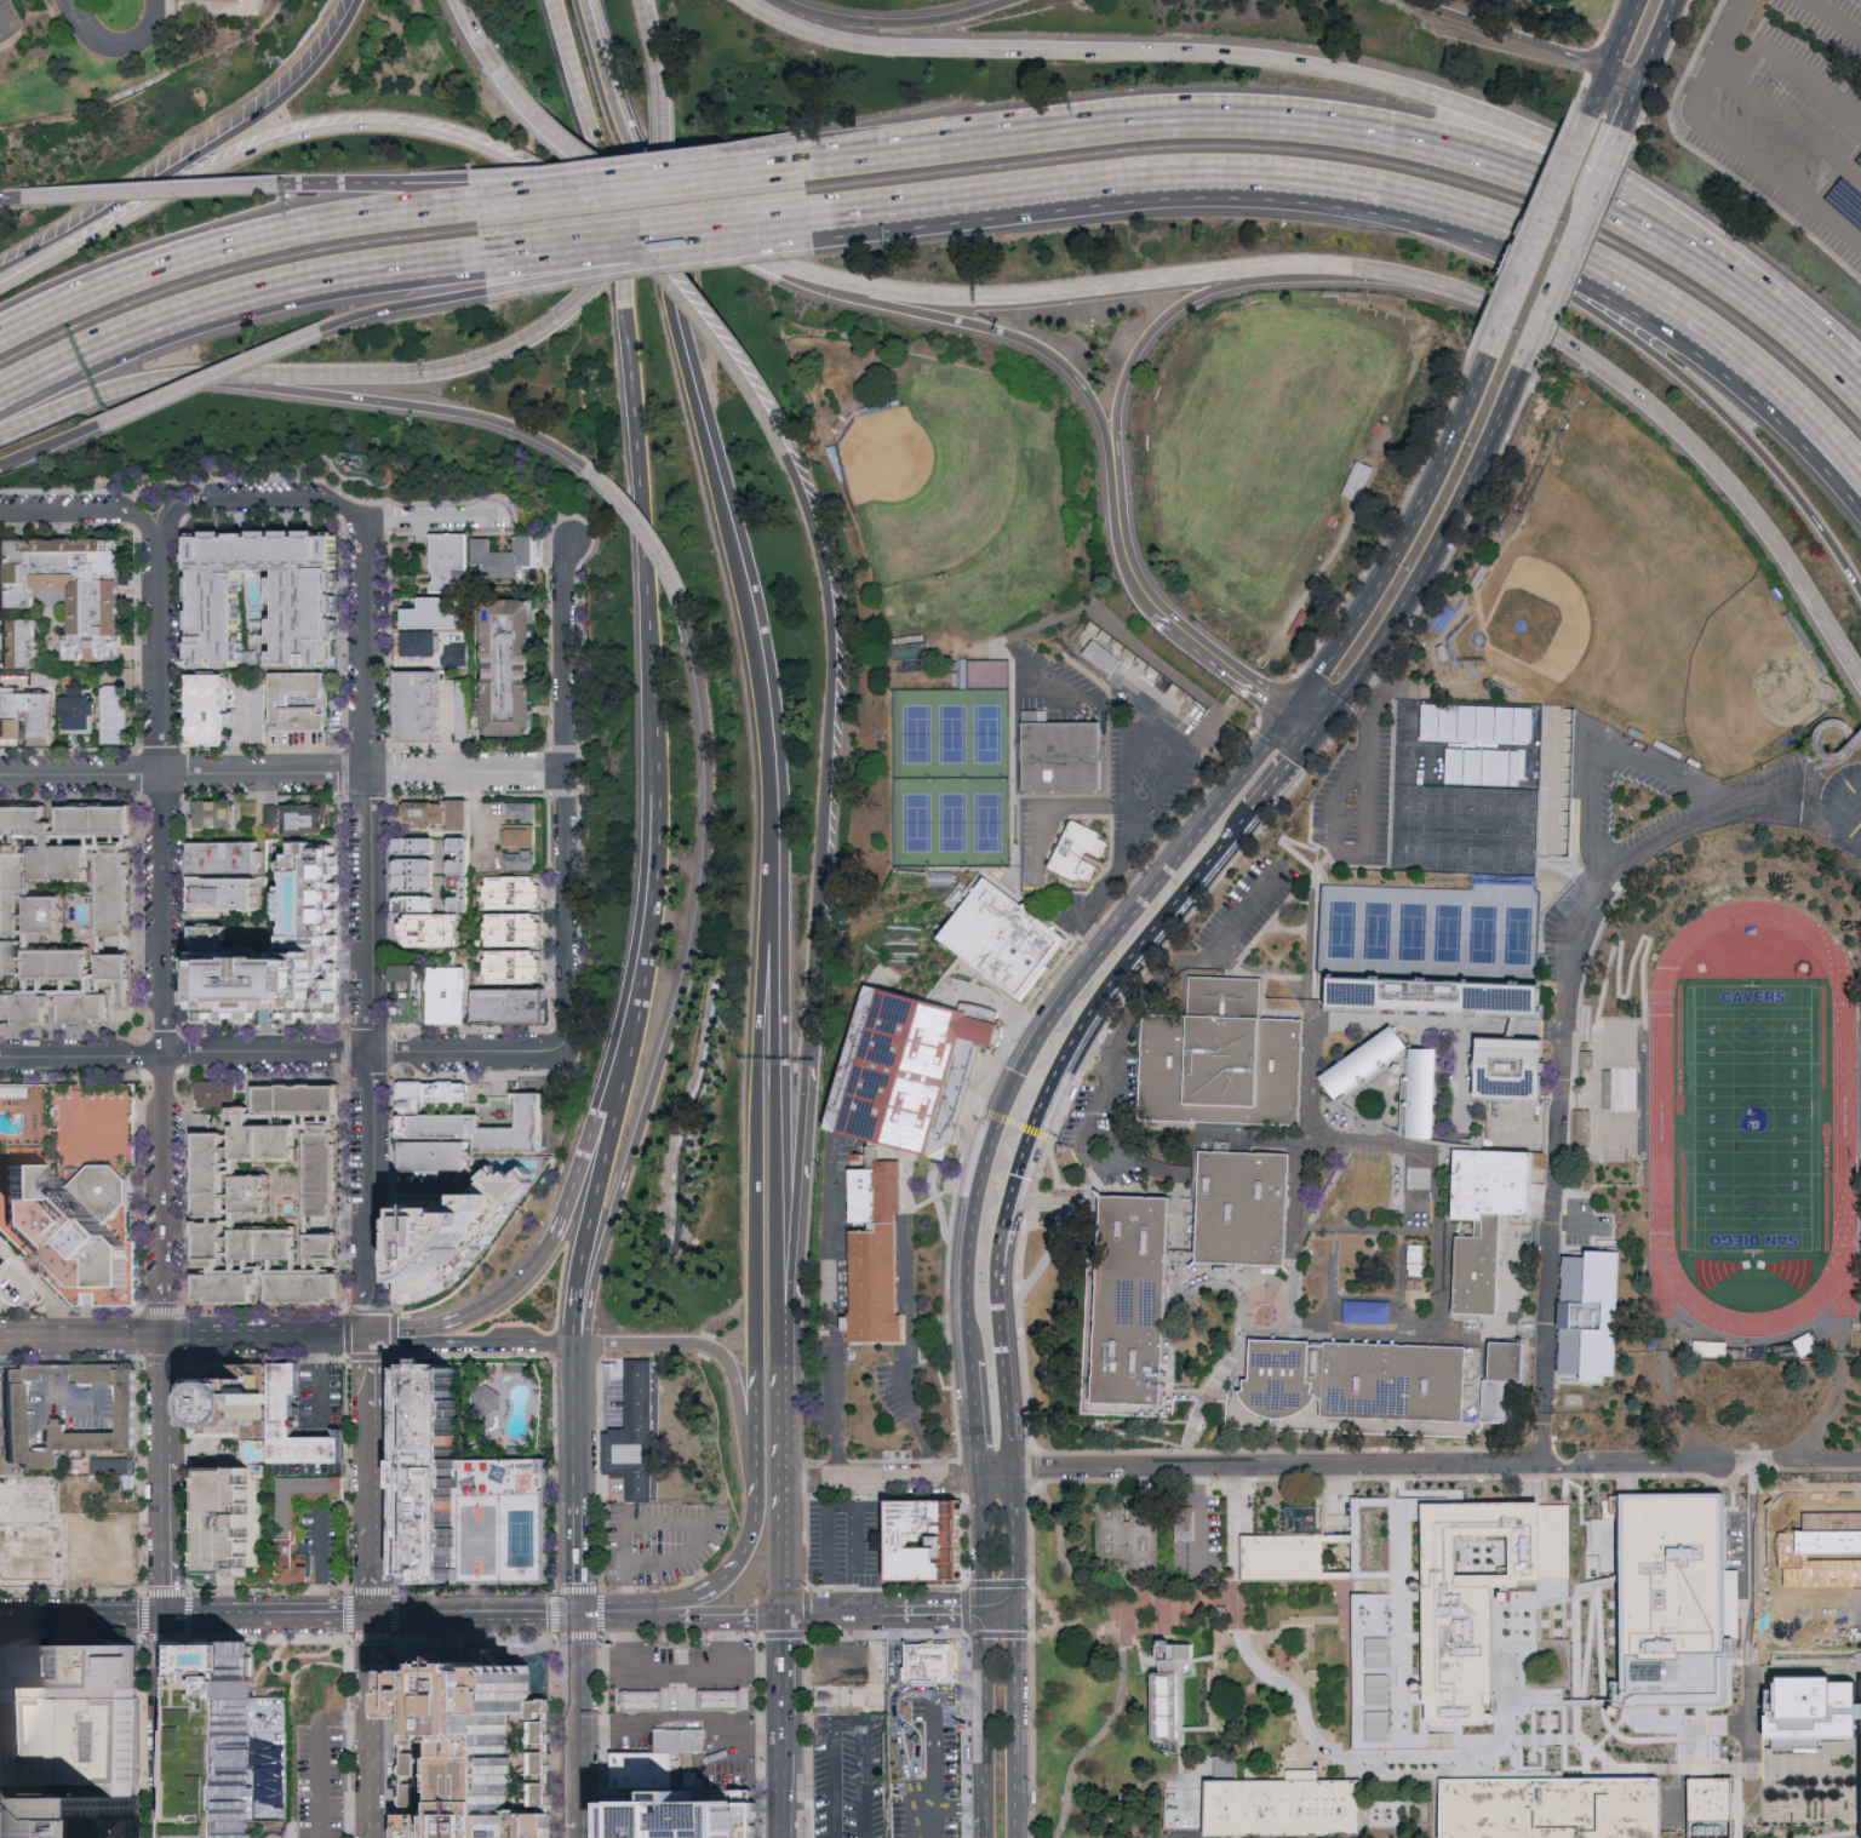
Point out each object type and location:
building: (219, 0)
road: (646, 2)
road: (1836, 16)
road: (75, 17)
parking lot: (7, 22)
road: (1607, 23)
road: (1665, 23)
road: (895, 24)
road: (1678, 27)
road: (19, 38)
road: (480, 41)
road: (655, 42)
road: (1530, 44)
road: (136, 45)
road: (1614, 56)
road: (1591, 58)
road: (1678, 58)
road: (1792, 58)
park: (442, 69)
road: (1335, 71)
road: (1725, 79)
road: (1639, 84)
road: (1580, 90)
road: (1651, 93)
parking lot: (1786, 114)
park: (1739, 116)
road: (1170, 122)
road: (1622, 125)
road: (1799, 130)
road: (225, 134)
road: (1728, 137)
road: (1610, 153)
road: (235, 161)
road: (1710, 161)
road: (800, 164)
road: (1295, 177)
road: (405, 182)
road: (609, 188)
road: (635, 189)
road: (10, 199)
road: (643, 212)
road: (836, 217)
road: (773, 223)
road: (1523, 227)
road: (1432, 234)
road: (1539, 234)
road: (583, 240)
road: (208, 251)
road: (32, 253)
road: (1585, 253)
road: (32, 258)
road: (613, 263)
road: (1559, 271)
road: (1705, 271)
road: (792, 274)
road: (671, 275)
road: (1122, 286)
road: (1207, 296)
road: (210, 304)
road: (406, 308)
road: (1007, 334)
road: (391, 376)
road: (213, 378)
road: (632, 395)
road: (101, 396)
road: (1783, 397)
road: (402, 406)
road: (1776, 430)
road: (1688, 440)
road: (55, 445)
park: (1272, 447)
road: (4, 466)
park: (254, 470)
building: (1357, 480)
park: (934, 486)
road: (259, 499)
road: (82, 513)
road: (429, 519)
road: (1393, 520)
road: (648, 534)
road: (1404, 543)
road: (1129, 555)
building: (505, 557)
road: (1433, 560)
building: (442, 562)
road: (1327, 565)
road: (745, 588)
building: (67, 589)
park: (1651, 608)
building: (303, 614)
building: (434, 614)
road: (1186, 630)
building: (18, 645)
building: (419, 646)
road: (367, 647)
building: (457, 653)
building: (506, 670)
building: (986, 672)
road: (1176, 675)
building: (42, 676)
building: (1147, 677)
road: (1253, 683)
road: (1273, 695)
building: (296, 702)
road: (1227, 704)
building: (206, 708)
building: (463, 708)
building: (420, 709)
building: (113, 712)
traffic signals: (1289, 712)
building: (76, 716)
building: (1479, 721)
road: (1301, 723)
building: (40, 729)
traffic signals: (1315, 734)
road: (1135, 735)
road: (1821, 748)
road: (1593, 749)
road: (830, 758)
building: (1065, 758)
building: (1485, 766)
road: (1828, 766)
road: (282, 774)
park: (951, 777)
road: (1279, 779)
road: (1226, 792)
road: (565, 797)
parking lot: (1763, 806)
road: (1850, 806)
road: (1057, 811)
building: (1501, 812)
building: (273, 813)
building: (519, 813)
road: (1335, 814)
building: (214, 817)
building: (434, 817)
building: (96, 820)
building: (23, 821)
building: (302, 821)
building: (519, 836)
building: (416, 848)
building: (223, 857)
building: (1083, 857)
road: (1218, 857)
building: (58, 860)
building: (1500, 860)
building: (520, 863)
building: (459, 875)
building: (416, 876)
building: (940, 876)
building: (514, 893)
building: (223, 895)
building: (111, 897)
road: (652, 901)
building: (23, 903)
building: (414, 904)
road: (1075, 920)
building: (513, 931)
building: (429, 932)
road: (165, 933)
park: (1427, 933)
building: (1006, 943)
building: (275, 954)
road: (1186, 961)
building: (8, 964)
building: (59, 966)
building: (513, 968)
building: (116, 978)
road: (683, 986)
building: (1445, 991)
building: (410, 995)
building: (448, 996)
building: (510, 1006)
building: (23, 1010)
road: (1333, 1020)
road: (1564, 1024)
road: (1081, 1040)
road: (1008, 1048)
road: (1037, 1048)
road: (276, 1054)
road: (368, 1055)
road: (625, 1060)
building: (1363, 1063)
building: (912, 1064)
building: (1226, 1064)
building: (1513, 1073)
building: (1617, 1092)
building: (214, 1094)
road: (757, 1095)
road: (1066, 1096)
building: (1424, 1098)
building: (297, 1100)
road: (600, 1111)
park: (1756, 1115)
building: (468, 1118)
track: (1664, 1121)
building: (1586, 1127)
road: (1115, 1138)
road: (1082, 1139)
building: (262, 1140)
building: (431, 1156)
building: (321, 1174)
building: (208, 1175)
road: (800, 1183)
building: (68, 1191)
building: (252, 1195)
building: (1421, 1199)
building: (1248, 1213)
building: (460, 1224)
building: (1489, 1227)
road: (586, 1230)
building: (210, 1242)
building: (265, 1246)
building: (877, 1255)
road: (781, 1269)
building: (1324, 1271)
building: (1414, 1276)
building: (15, 1283)
building: (303, 1287)
building: (224, 1288)
road: (496, 1301)
road: (969, 1306)
building: (1136, 1306)
road: (834, 1311)
building: (1368, 1313)
building: (1590, 1316)
road: (785, 1321)
road: (382, 1336)
road: (1003, 1336)
traffic signals: (166, 1338)
road: (183, 1338)
traffic signals: (368, 1338)
building: (1809, 1342)
road: (643, 1345)
road: (320, 1350)
road: (783, 1359)
building: (1508, 1387)
building: (1353, 1388)
road: (319, 1393)
building: (233, 1399)
road: (755, 1401)
road: (368, 1405)
road: (783, 1414)
road: (973, 1415)
road: (912, 1416)
building: (8, 1421)
road: (580, 1424)
building: (631, 1439)
building: (311, 1443)
road: (895, 1459)
road: (1700, 1462)
road: (1275, 1464)
road: (784, 1465)
road: (1033, 1465)
road: (995, 1467)
building: (463, 1471)
road: (755, 1473)
road: (962, 1476)
road: (881, 1477)
road: (1214, 1478)
road: (978, 1479)
building: (82, 1482)
road: (1399, 1483)
road: (784, 1494)
parking lot: (29, 1502)
road: (843, 1506)
road: (1769, 1515)
road: (1355, 1516)
road: (1233, 1519)
building: (230, 1521)
road: (1014, 1524)
building: (284, 1528)
park: (482, 1536)
park: (522, 1538)
road: (964, 1538)
building: (1127, 1539)
road: (1336, 1539)
road: (1352, 1539)
building: (920, 1540)
road: (806, 1541)
building: (1814, 1541)
road: (864, 1542)
road: (626, 1544)
road: (825, 1544)
road: (368, 1545)
parking lot: (646, 1545)
road: (320, 1546)
road: (981, 1548)
building: (99, 1551)
road: (1244, 1557)
building: (1281, 1558)
road: (1318, 1558)
road: (582, 1559)
road: (784, 1561)
road: (666, 1562)
building: (1853, 1562)
road: (734, 1567)
building: (1813, 1570)
parking lot: (1799, 1574)
road: (1336, 1575)
road: (1375, 1575)
road: (846, 1580)
road: (1596, 1580)
road: (998, 1581)
road: (1393, 1586)
road: (168, 1587)
building: (1490, 1590)
road: (864, 1594)
road: (630, 1597)
road: (319, 1598)
road: (1018, 1598)
road: (1226, 1599)
building: (1671, 1599)
road: (1139, 1601)
road: (1237, 1604)
road: (662, 1605)
road: (966, 1608)
road: (938, 1609)
traffic signals: (984, 1609)
road: (1001, 1609)
road: (838, 1610)
traffic signals: (1018, 1610)
road: (763, 1611)
traffic signals: (785, 1611)
road: (653, 1613)
road: (709, 1613)
road: (132, 1615)
traffic signals: (170, 1615)
road: (606, 1615)
road: (287, 1616)
road: (339, 1616)
traffic signals: (368, 1616)
road: (475, 1616)
traffic signals: (583, 1617)
road: (1305, 1617)
road: (1227, 1622)
road: (1146, 1630)
road: (997, 1633)
road: (1401, 1633)
road: (265, 1639)
road: (785, 1639)
road: (741, 1642)
road: (368, 1643)
road: (1512, 1644)
road: (1599, 1645)
road: (277, 1648)
road: (1302, 1653)
road: (1122, 1655)
road: (807, 1656)
road: (290, 1659)
fountain: (536, 1662)
road: (821, 1665)
building: (934, 1665)
road: (1576, 1666)
building: (79, 1667)
road: (763, 1668)
road: (663, 1670)
road: (1753, 1670)
road: (258, 1671)
road: (1355, 1671)
helipad: (76, 1672)
gas station: (681, 1677)
park: (1081, 1683)
road: (1017, 1685)
building: (1168, 1688)
road: (785, 1691)
road: (958, 1694)
road: (1591, 1701)
building: (1819, 1702)
building: (725, 1705)
road: (1531, 1705)
building: (646, 1706)
road: (984, 1713)
road: (583, 1718)
road: (1622, 1718)
road: (692, 1720)
road: (1547, 1722)
road: (401, 1725)
road: (429, 1731)
road: (966, 1735)
road: (399, 1737)
road: (1512, 1737)
road: (1561, 1737)
road: (1533, 1739)
road: (1547, 1739)
building: (78, 1742)
road: (1464, 1742)
building: (235, 1743)
building: (685, 1743)
building: (464, 1746)
road: (371, 1753)
road: (320, 1754)
road: (1348, 1756)
road: (1489, 1757)
road: (1218, 1767)
road: (1656, 1768)
road: (934, 1769)
parking lot: (922, 1770)
road: (1392, 1770)
road: (1435, 1774)
road: (1501, 1774)
parking lot: (322, 1776)
road: (836, 1776)
parking lot: (852, 1776)
road: (786, 1777)
road: (1015, 1799)
road: (347, 1806)
building: (1717, 1806)
building: (1548, 1808)
road: (958, 1810)
building: (1282, 1810)
building: (78, 1816)
building: (682, 1817)
road: (1435, 1817)
road: (984, 1827)
road: (583, 1828)
parking lot: (1166, 1833)

